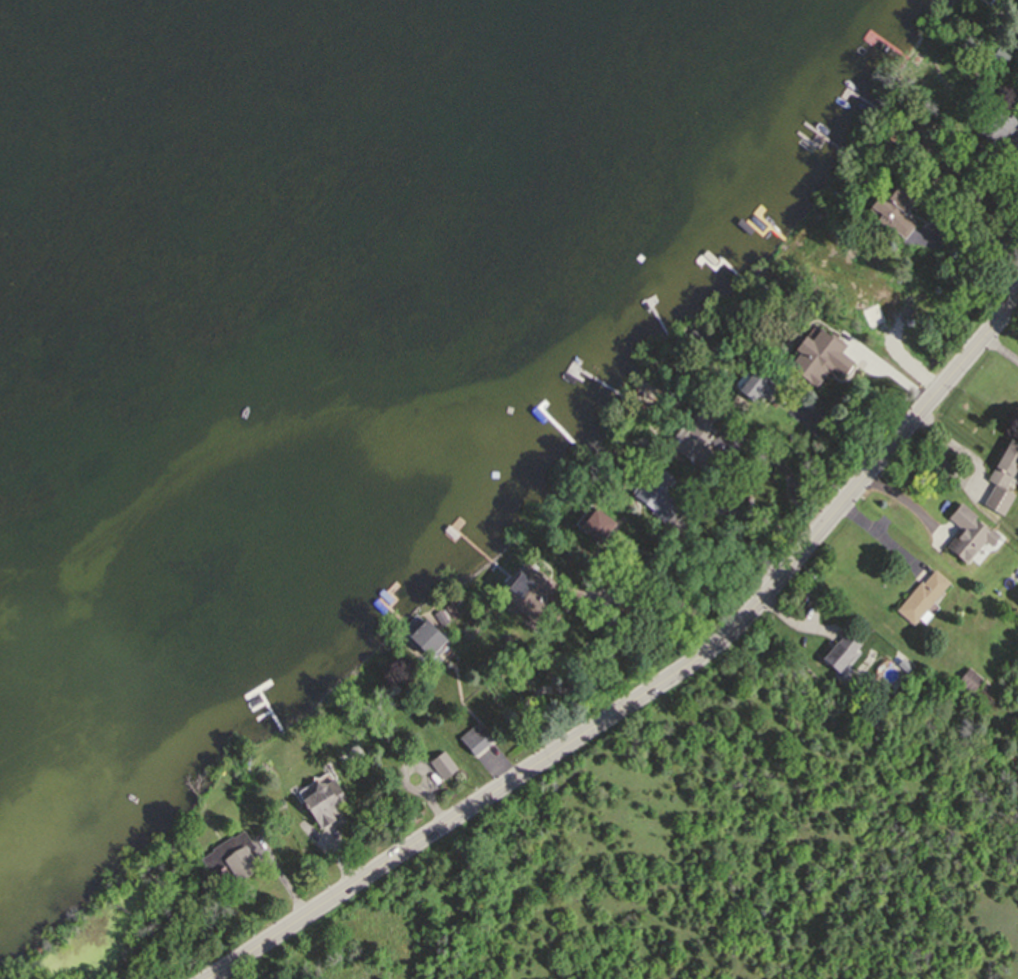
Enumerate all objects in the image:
building: (1013, 11)
building: (997, 52)
building: (992, 125)
building: (894, 212)
road: (976, 259)
building: (869, 315)
building: (696, 336)
building: (799, 350)
building: (837, 350)
building: (759, 385)
road: (826, 433)
building: (696, 440)
road: (949, 441)
road: (780, 469)
building: (1001, 477)
building: (656, 491)
road: (908, 502)
road: (746, 520)
building: (591, 524)
building: (966, 531)
road: (882, 539)
building: (674, 567)
building: (607, 573)
building: (681, 583)
building: (525, 591)
building: (921, 594)
building: (450, 609)
building: (439, 615)
building: (424, 637)
building: (506, 638)
building: (840, 650)
building: (968, 677)
road: (655, 685)
road: (580, 689)
building: (473, 742)
building: (353, 750)
building: (444, 761)
building: (321, 801)
building: (229, 856)
road: (214, 977)

